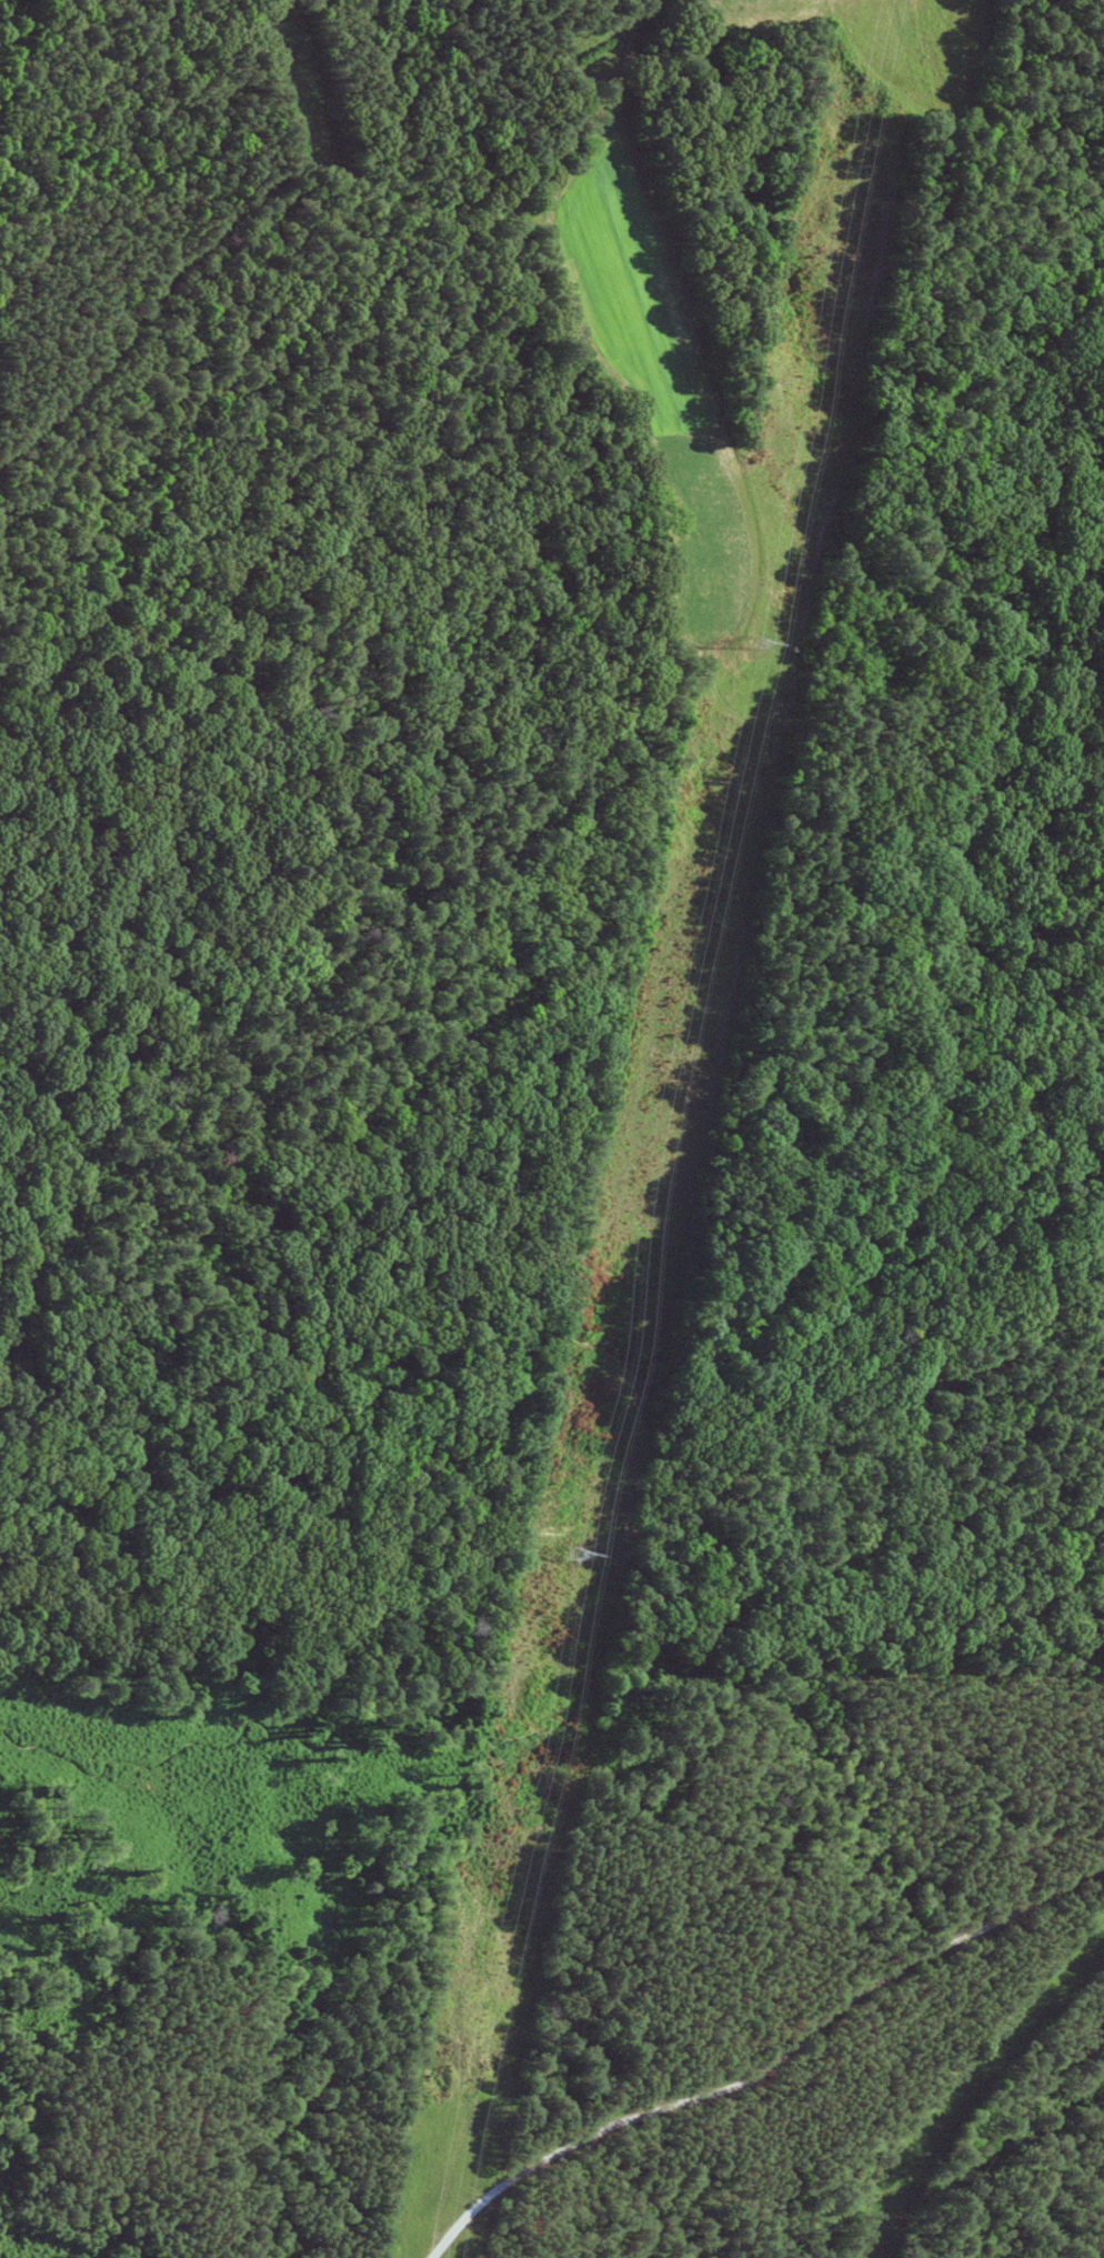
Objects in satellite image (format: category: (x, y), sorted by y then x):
power tower: (752, 640)
power tower: (571, 1555)

